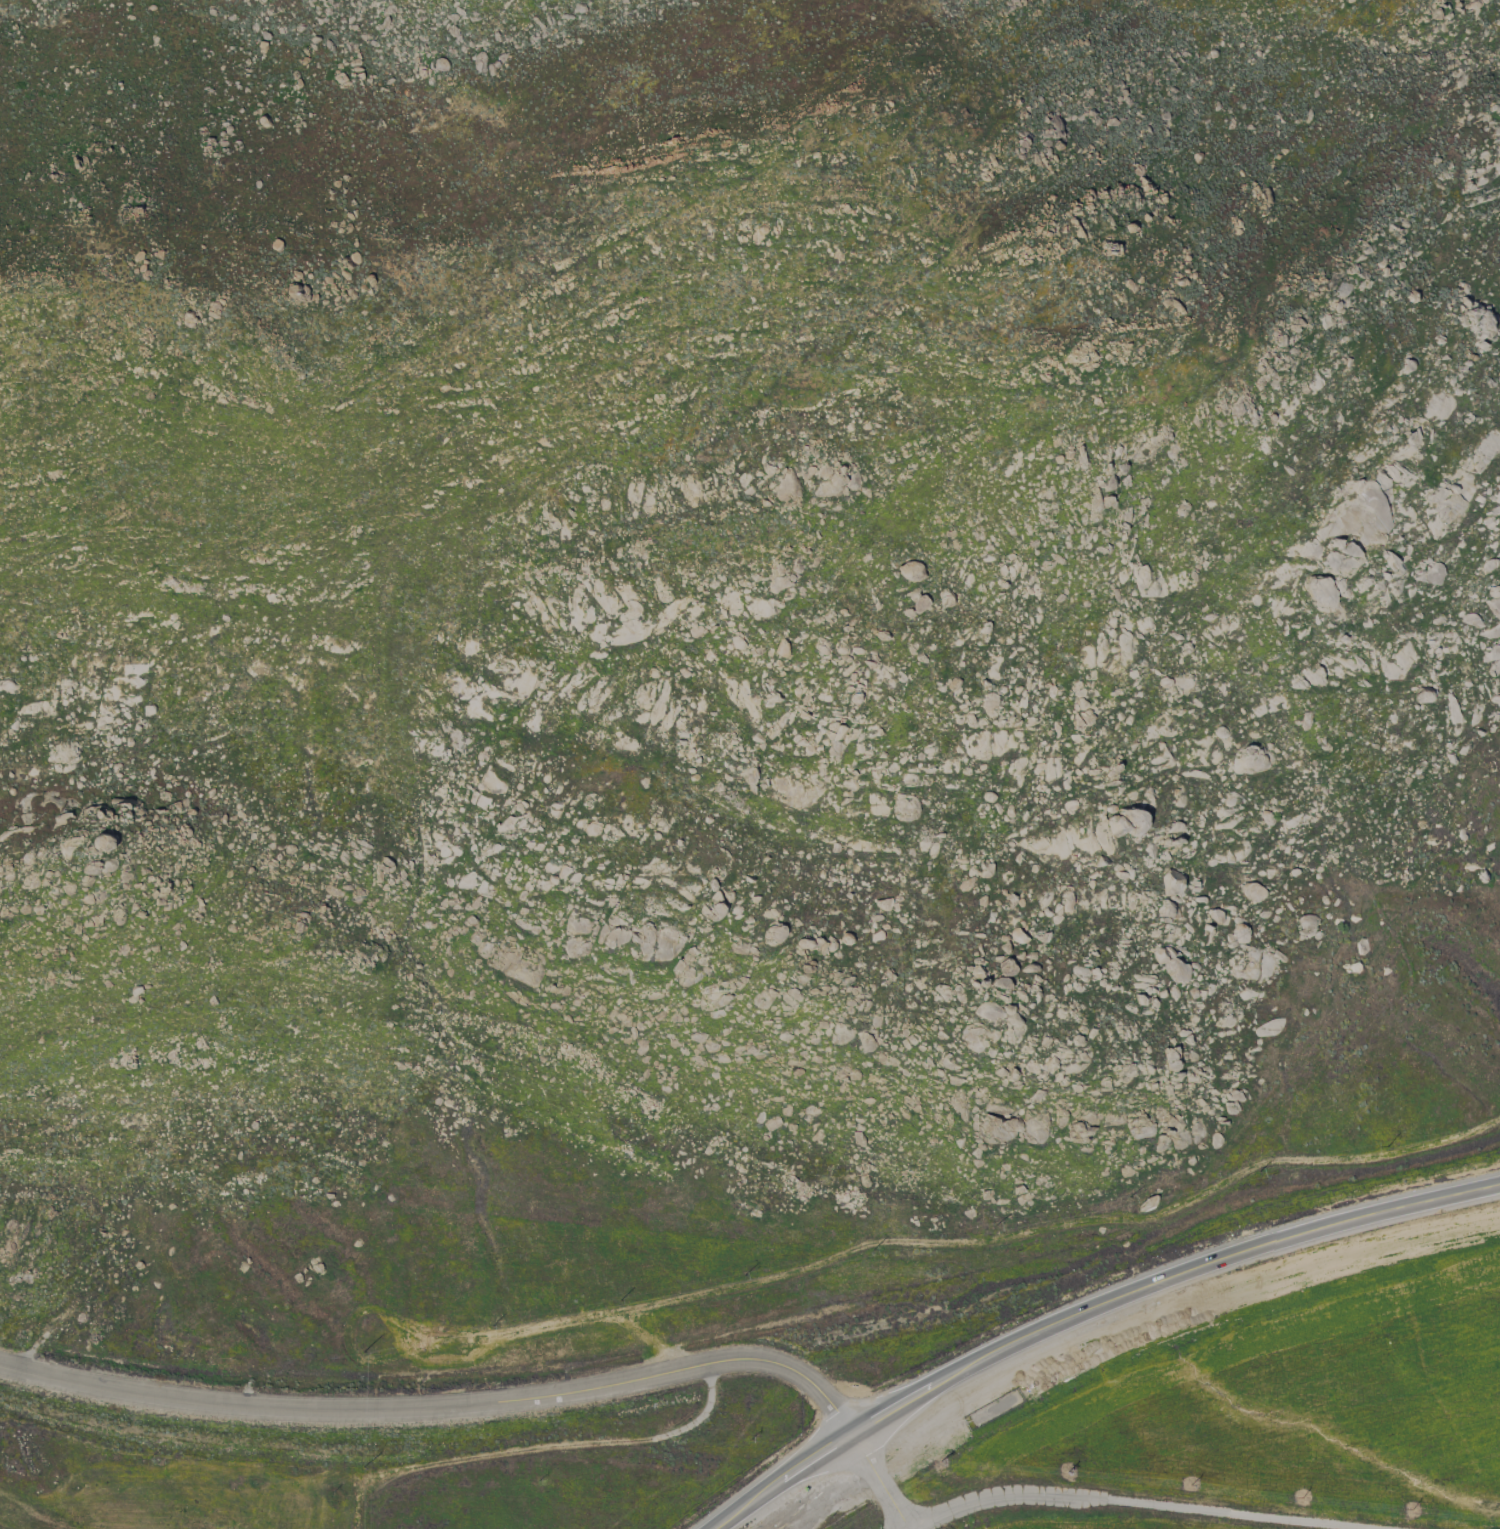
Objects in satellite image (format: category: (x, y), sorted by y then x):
road: (1086, 1310)
road: (440, 1403)
road: (1095, 1496)
road: (906, 1524)

